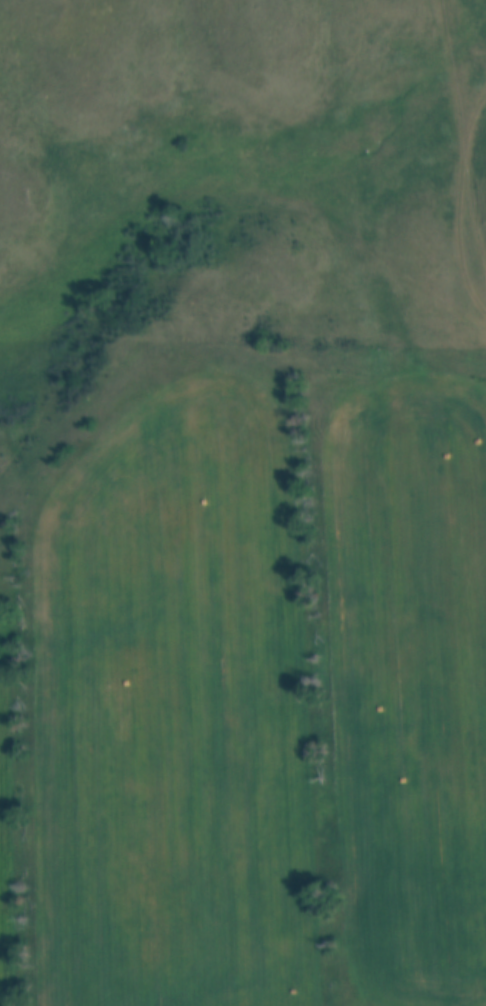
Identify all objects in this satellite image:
road: (458, 156)

